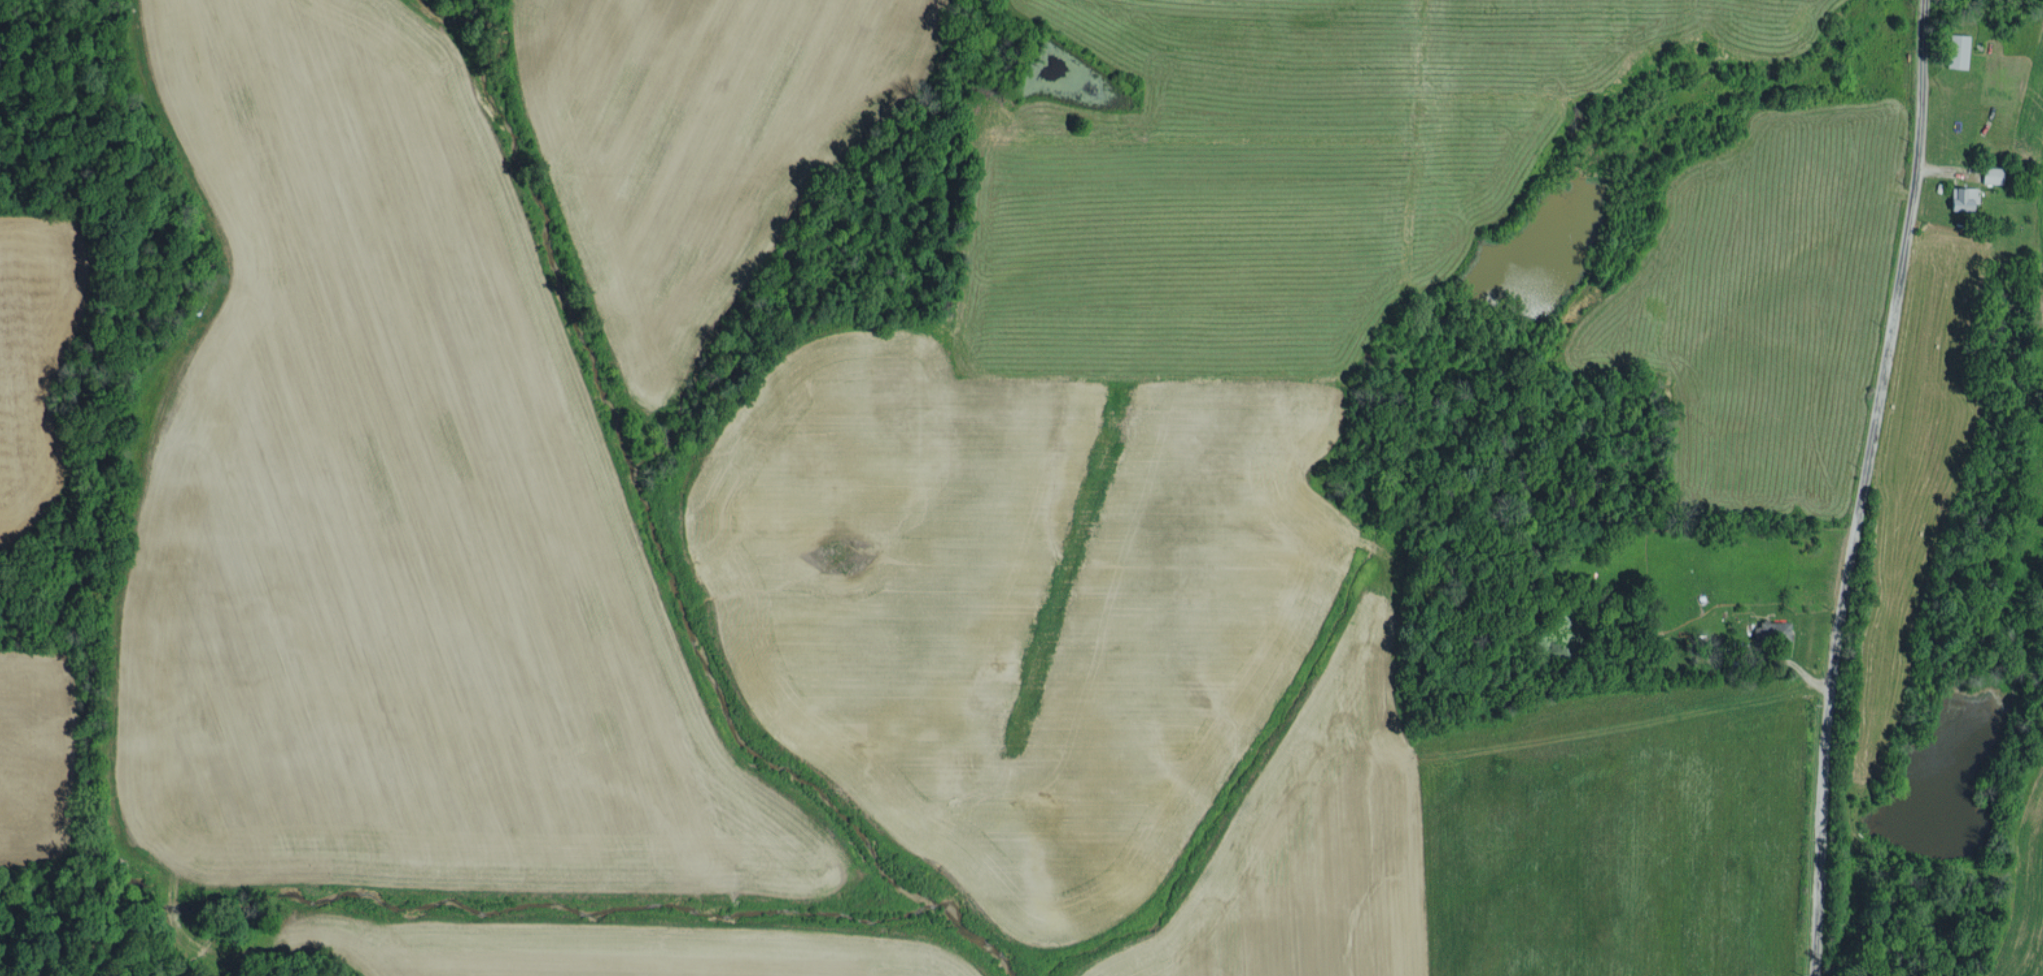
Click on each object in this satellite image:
building: (1956, 51)
building: (1991, 175)
building: (1962, 200)
road: (1856, 486)
building: (1771, 629)

